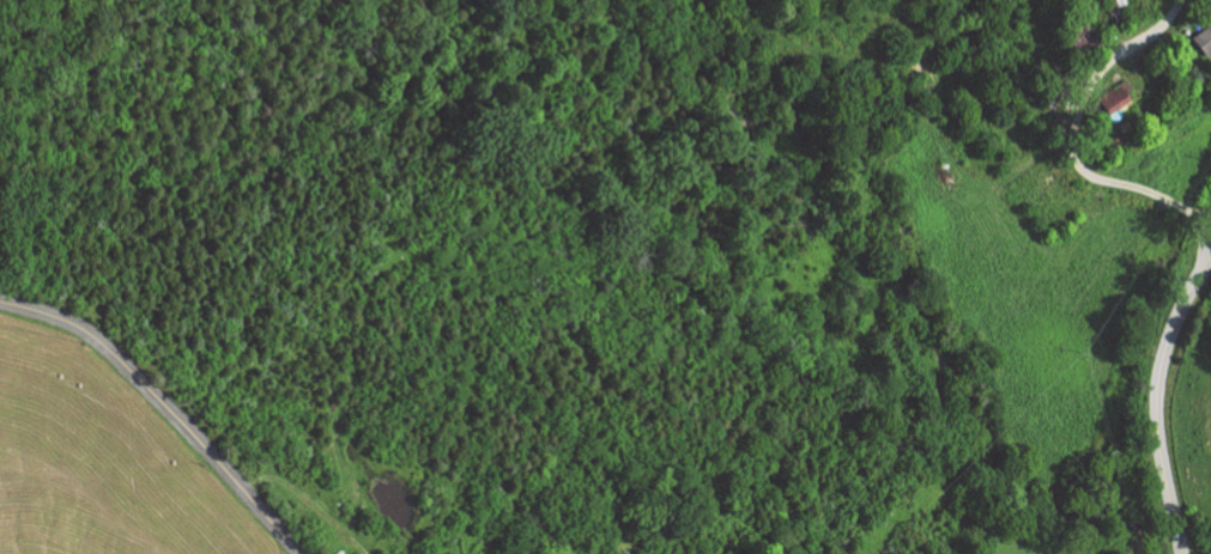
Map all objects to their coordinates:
building: (1116, 11)
building: (1204, 37)
building: (1080, 47)
road: (939, 85)
building: (1055, 90)
building: (1110, 99)
road: (1073, 151)
road: (1203, 214)
road: (1157, 398)
road: (165, 404)

